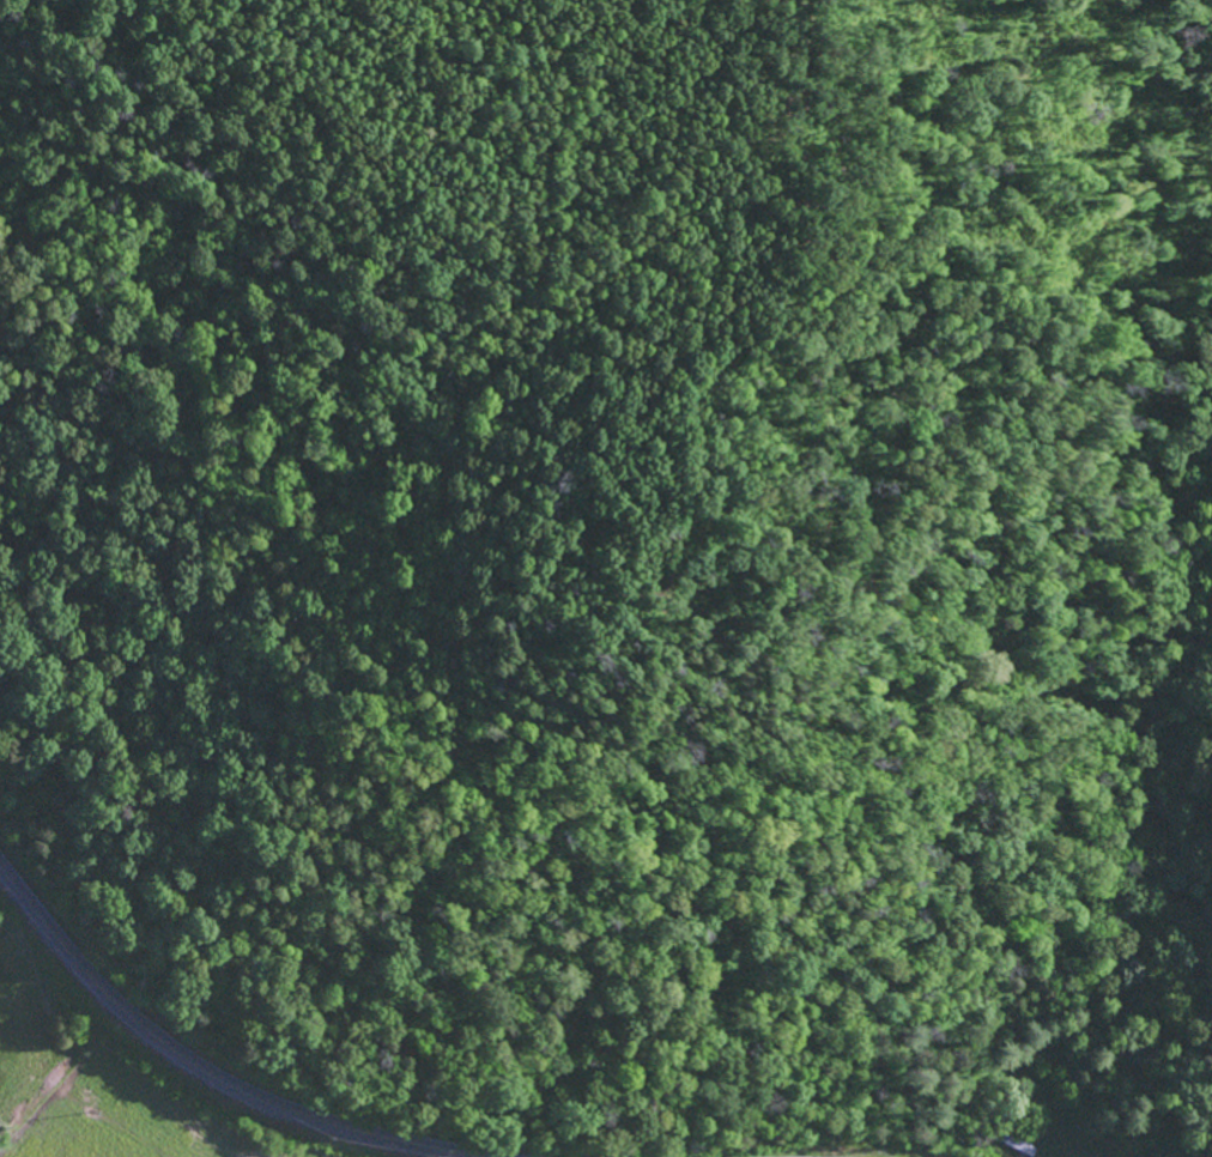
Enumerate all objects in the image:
road: (206, 1070)

